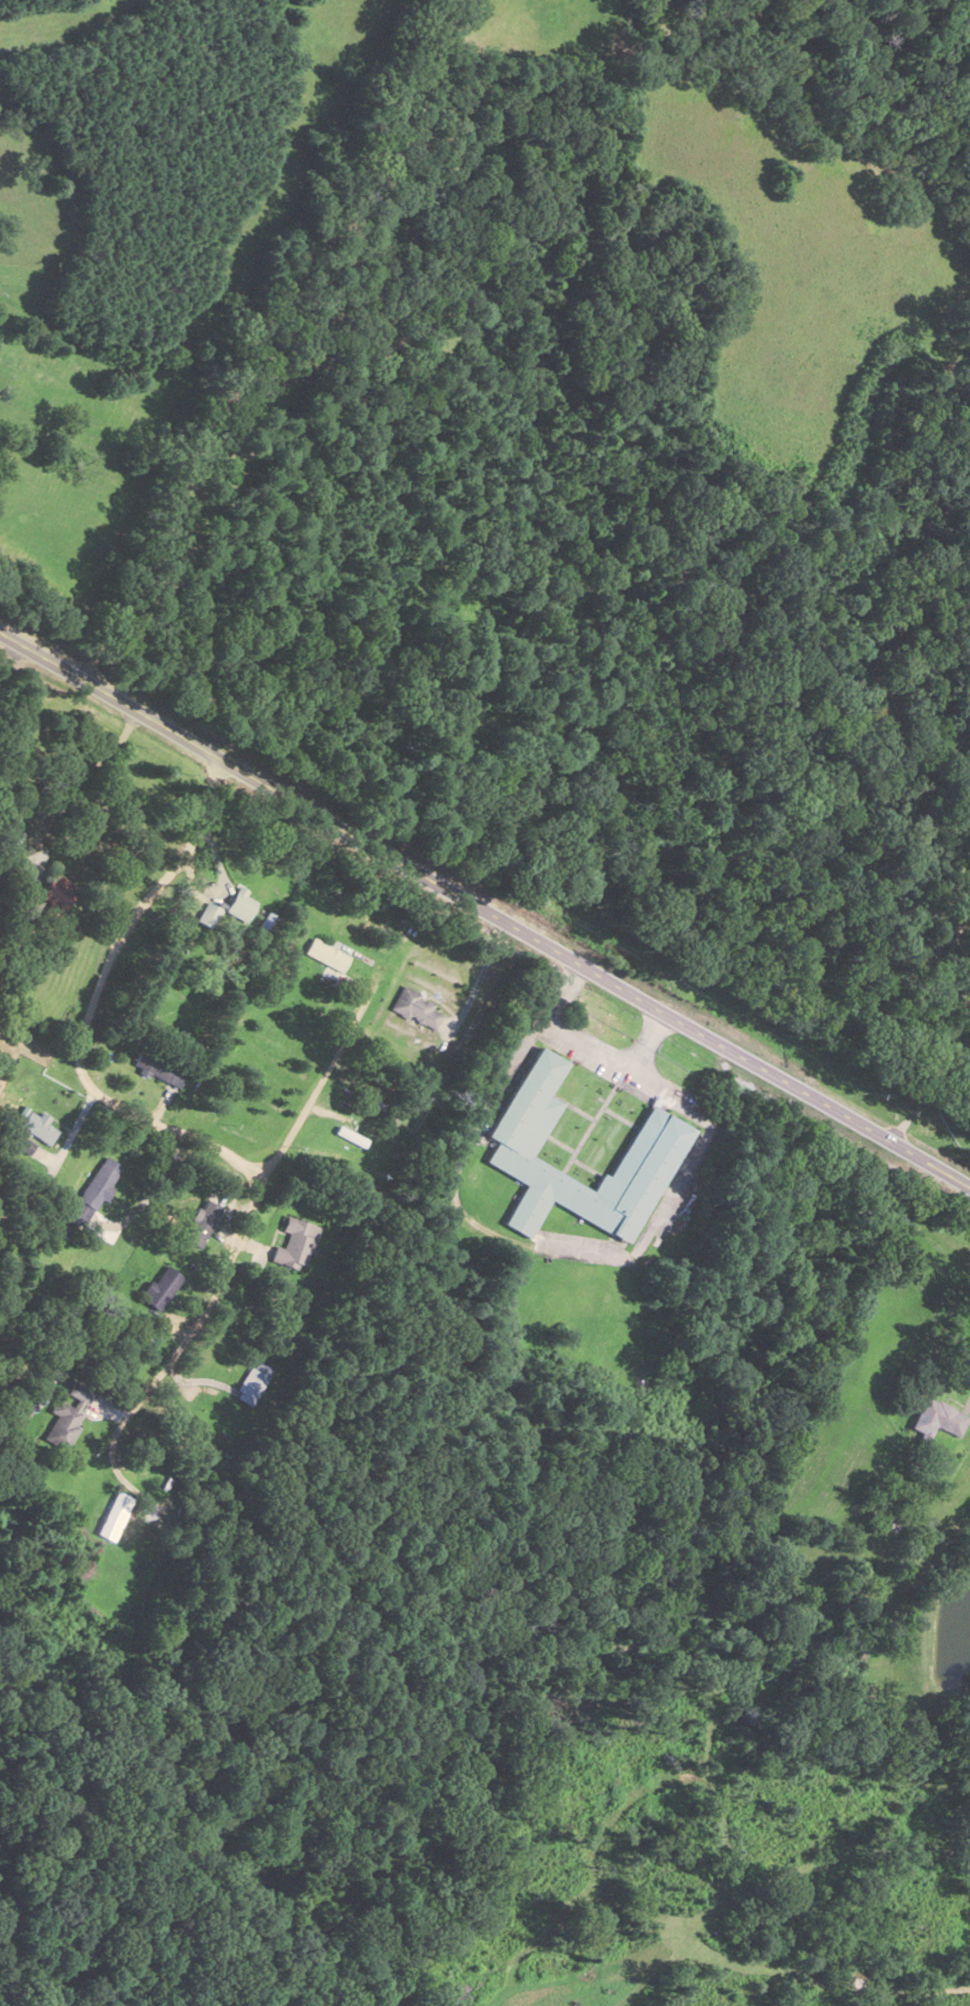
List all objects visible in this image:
road: (530, 284)
building: (55, 896)
building: (239, 904)
building: (266, 924)
road: (482, 925)
building: (326, 953)
road: (371, 1001)
building: (415, 1007)
building: (159, 1068)
building: (383, 1108)
building: (38, 1127)
building: (353, 1137)
building: (25, 1146)
building: (652, 1149)
building: (475, 1176)
building: (93, 1192)
building: (203, 1223)
building: (297, 1243)
building: (160, 1287)
building: (252, 1382)
building: (938, 1417)
building: (62, 1425)
building: (114, 1515)

